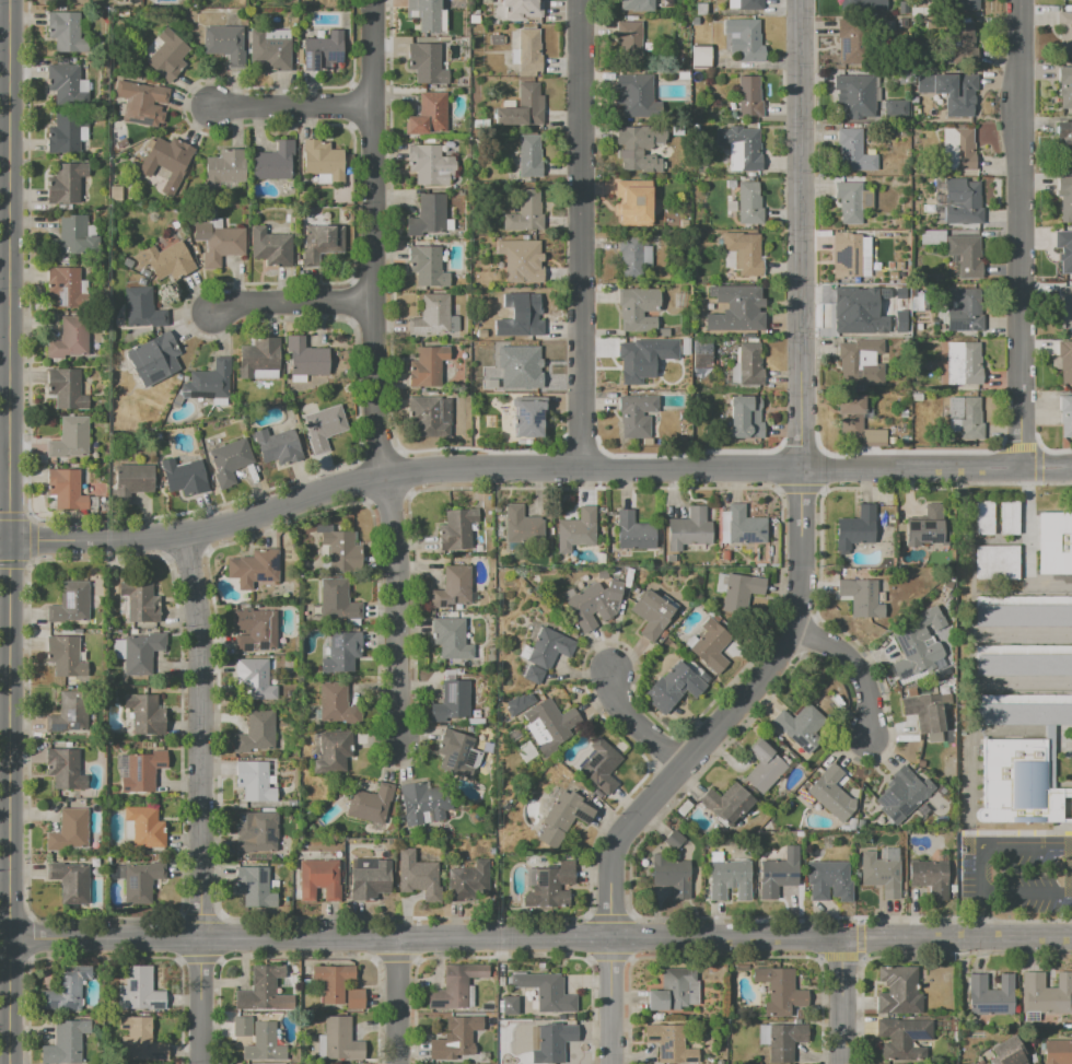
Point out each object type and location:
building: (486, 1)
building: (747, 3)
building: (851, 3)
building: (900, 4)
building: (630, 5)
building: (965, 5)
building: (523, 9)
building: (700, 9)
building: (476, 11)
road: (5, 13)
building: (633, 13)
building: (427, 14)
building: (474, 19)
building: (631, 19)
building: (694, 21)
building: (65, 32)
building: (1064, 32)
building: (319, 34)
building: (444, 38)
building: (496, 39)
building: (629, 39)
building: (745, 39)
building: (850, 39)
building: (223, 43)
building: (963, 44)
building: (322, 50)
building: (269, 51)
building: (528, 51)
building: (680, 51)
building: (165, 55)
building: (514, 57)
building: (701, 57)
building: (71, 60)
building: (427, 62)
building: (443, 63)
building: (683, 73)
building: (62, 81)
building: (463, 82)
building: (913, 86)
building: (1065, 86)
building: (632, 95)
building: (854, 95)
building: (963, 95)
building: (749, 96)
building: (141, 102)
road: (291, 105)
building: (523, 107)
building: (896, 109)
building: (429, 115)
building: (913, 118)
building: (928, 118)
building: (485, 122)
building: (696, 127)
building: (66, 130)
building: (115, 133)
building: (1064, 140)
building: (429, 141)
building: (120, 143)
building: (96, 144)
building: (639, 148)
building: (741, 148)
building: (853, 151)
building: (958, 151)
building: (167, 155)
building: (528, 156)
building: (323, 160)
building: (275, 162)
building: (430, 164)
building: (225, 166)
building: (912, 172)
building: (750, 174)
building: (742, 178)
building: (67, 184)
building: (731, 184)
building: (461, 192)
building: (1064, 197)
building: (852, 201)
building: (636, 202)
building: (963, 202)
building: (749, 203)
building: (731, 206)
building: (525, 213)
building: (427, 217)
building: (684, 223)
building: (448, 224)
building: (175, 225)
building: (695, 231)
road: (579, 233)
road: (1019, 233)
road: (800, 234)
road: (372, 237)
building: (932, 237)
building: (72, 238)
building: (218, 241)
building: (322, 243)
building: (270, 246)
building: (1065, 252)
building: (744, 253)
building: (632, 254)
building: (851, 256)
building: (966, 256)
building: (166, 260)
building: (521, 260)
building: (127, 262)
building: (899, 266)
building: (427, 267)
road: (11, 270)
building: (144, 272)
building: (893, 276)
building: (141, 282)
building: (63, 287)
building: (83, 287)
road: (290, 302)
building: (920, 304)
building: (1065, 306)
building: (141, 308)
building: (735, 308)
building: (638, 309)
building: (858, 311)
building: (964, 311)
building: (499, 315)
building: (531, 315)
building: (434, 316)
building: (898, 320)
building: (496, 334)
building: (70, 338)
building: (701, 353)
building: (258, 358)
building: (306, 358)
building: (153, 359)
building: (862, 361)
building: (1065, 361)
building: (634, 362)
building: (964, 363)
building: (747, 365)
building: (427, 367)
building: (526, 369)
building: (266, 374)
building: (503, 375)
road: (5, 376)
building: (668, 377)
building: (298, 378)
building: (208, 382)
building: (65, 389)
building: (917, 397)
building: (176, 401)
building: (219, 401)
building: (870, 406)
building: (904, 413)
building: (528, 416)
building: (851, 416)
building: (1065, 416)
building: (430, 417)
building: (638, 417)
building: (745, 417)
building: (967, 417)
building: (489, 419)
building: (323, 426)
building: (70, 439)
building: (873, 439)
building: (907, 439)
building: (893, 441)
building: (520, 442)
building: (528, 442)
building: (277, 446)
building: (229, 461)
road: (536, 467)
building: (185, 476)
building: (130, 483)
building: (66, 490)
building: (984, 519)
building: (1011, 519)
building: (521, 526)
building: (745, 526)
building: (855, 528)
building: (456, 529)
building: (689, 529)
building: (575, 530)
building: (928, 530)
building: (633, 533)
road: (5, 541)
traffic signals: (11, 541)
building: (1054, 542)
building: (338, 547)
building: (723, 554)
building: (669, 559)
building: (998, 562)
building: (254, 568)
building: (602, 573)
building: (453, 588)
building: (744, 595)
building: (860, 596)
building: (337, 599)
building: (140, 601)
building: (592, 603)
building: (69, 604)
road: (391, 609)
building: (1023, 611)
building: (652, 615)
building: (256, 629)
building: (451, 638)
building: (711, 645)
building: (547, 646)
building: (912, 651)
building: (341, 652)
building: (142, 653)
building: (66, 654)
building: (1023, 660)
road: (855, 669)
building: (533, 674)
building: (254, 679)
building: (672, 687)
building: (452, 701)
building: (336, 702)
road: (727, 710)
building: (1024, 710)
building: (925, 712)
building: (67, 713)
building: (144, 713)
building: (546, 720)
road: (637, 720)
building: (799, 726)
building: (257, 733)
building: (335, 749)
building: (525, 751)
building: (457, 752)
building: (1050, 757)
building: (598, 764)
building: (764, 767)
building: (65, 770)
building: (143, 770)
building: (255, 782)
building: (1019, 785)
building: (830, 791)
building: (906, 792)
road: (198, 798)
road: (10, 802)
building: (371, 803)
building: (421, 803)
building: (727, 805)
building: (563, 818)
building: (145, 827)
building: (69, 830)
building: (257, 838)
building: (673, 840)
road: (1024, 846)
building: (778, 873)
building: (881, 874)
building: (931, 875)
building: (417, 876)
building: (671, 876)
building: (321, 877)
building: (725, 877)
building: (828, 879)
building: (69, 880)
building: (140, 881)
building: (370, 881)
building: (468, 881)
building: (253, 884)
building: (549, 886)
road: (1025, 890)
road: (978, 891)
road: (540, 938)
building: (334, 981)
building: (456, 986)
building: (260, 989)
building: (66, 990)
building: (139, 990)
building: (675, 990)
building: (780, 990)
building: (898, 991)
building: (546, 992)
building: (1046, 994)
building: (990, 996)
building: (356, 999)
road: (395, 1001)
road: (609, 1001)
road: (841, 1001)
building: (510, 1006)
building: (242, 1026)
building: (462, 1033)
building: (901, 1037)
building: (139, 1039)
building: (340, 1040)
building: (785, 1040)
building: (550, 1042)
building: (66, 1043)
building: (265, 1044)
building: (669, 1044)
building: (438, 1050)
building: (1057, 1051)
building: (1007, 1052)
building: (757, 1063)

